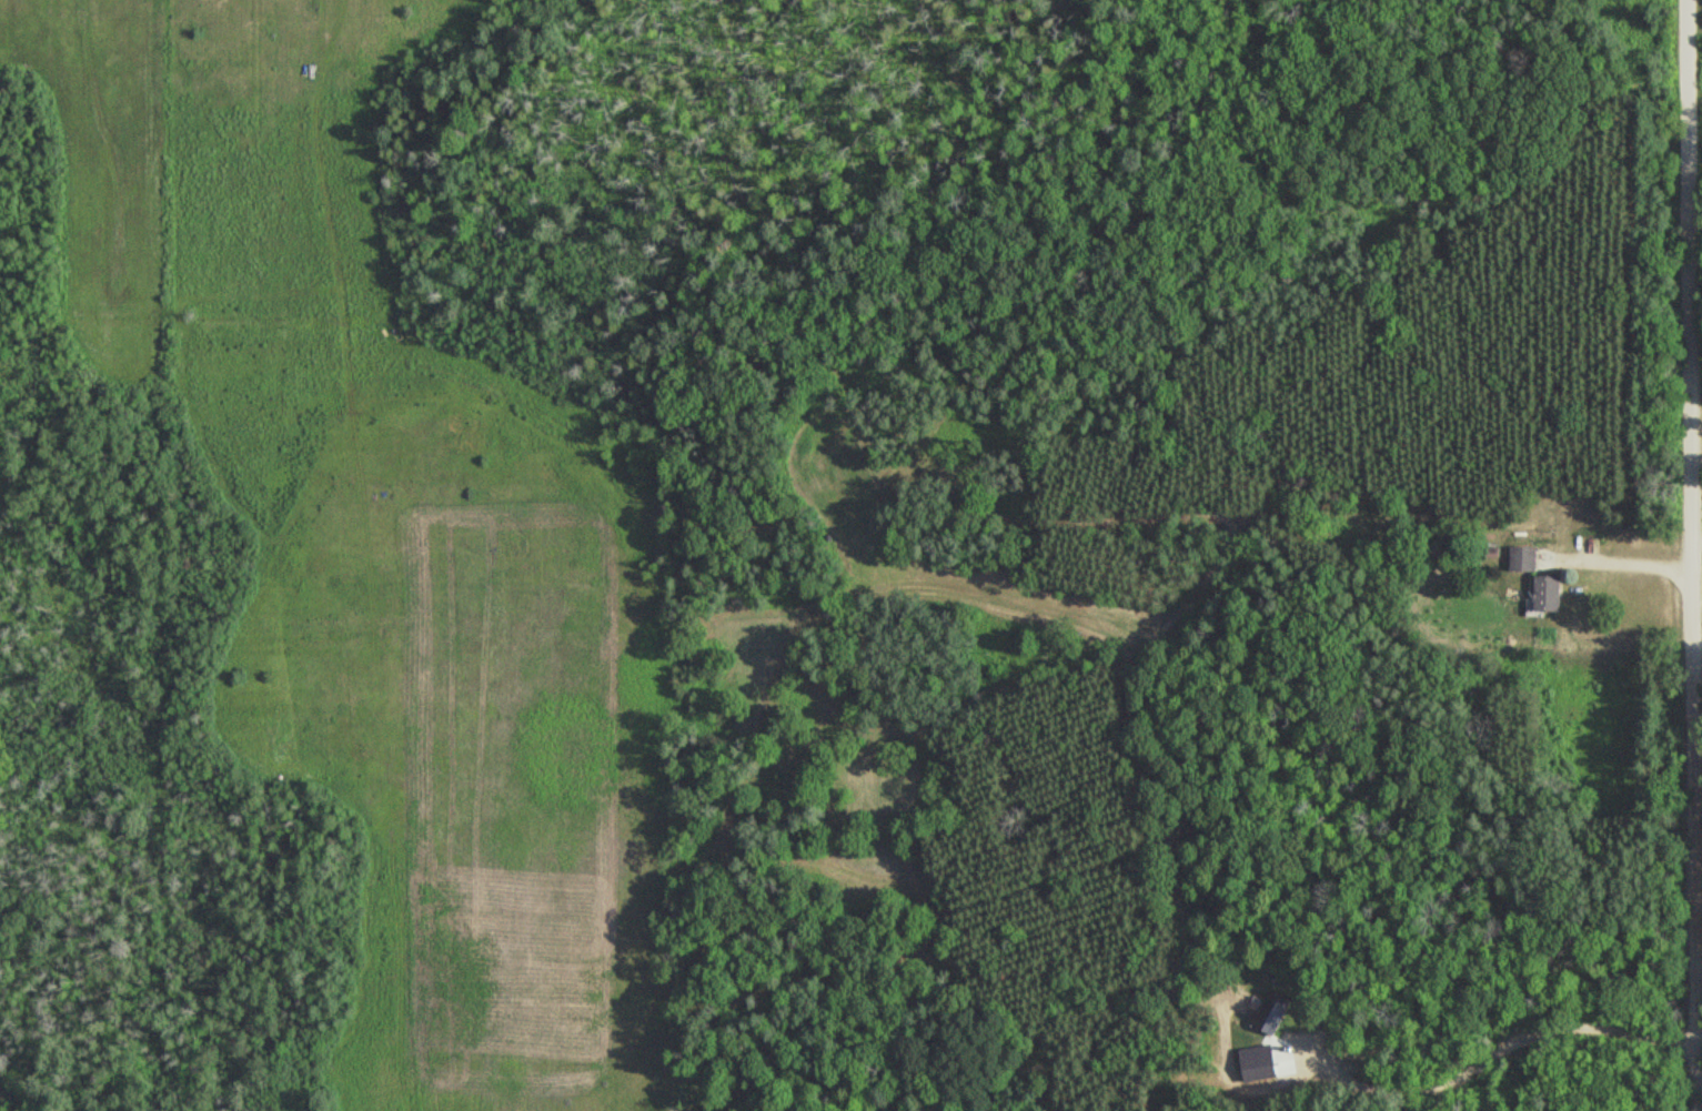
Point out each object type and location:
road: (1690, 555)
building: (1527, 558)
building: (1552, 593)
building: (1273, 1012)
road: (1480, 1060)

